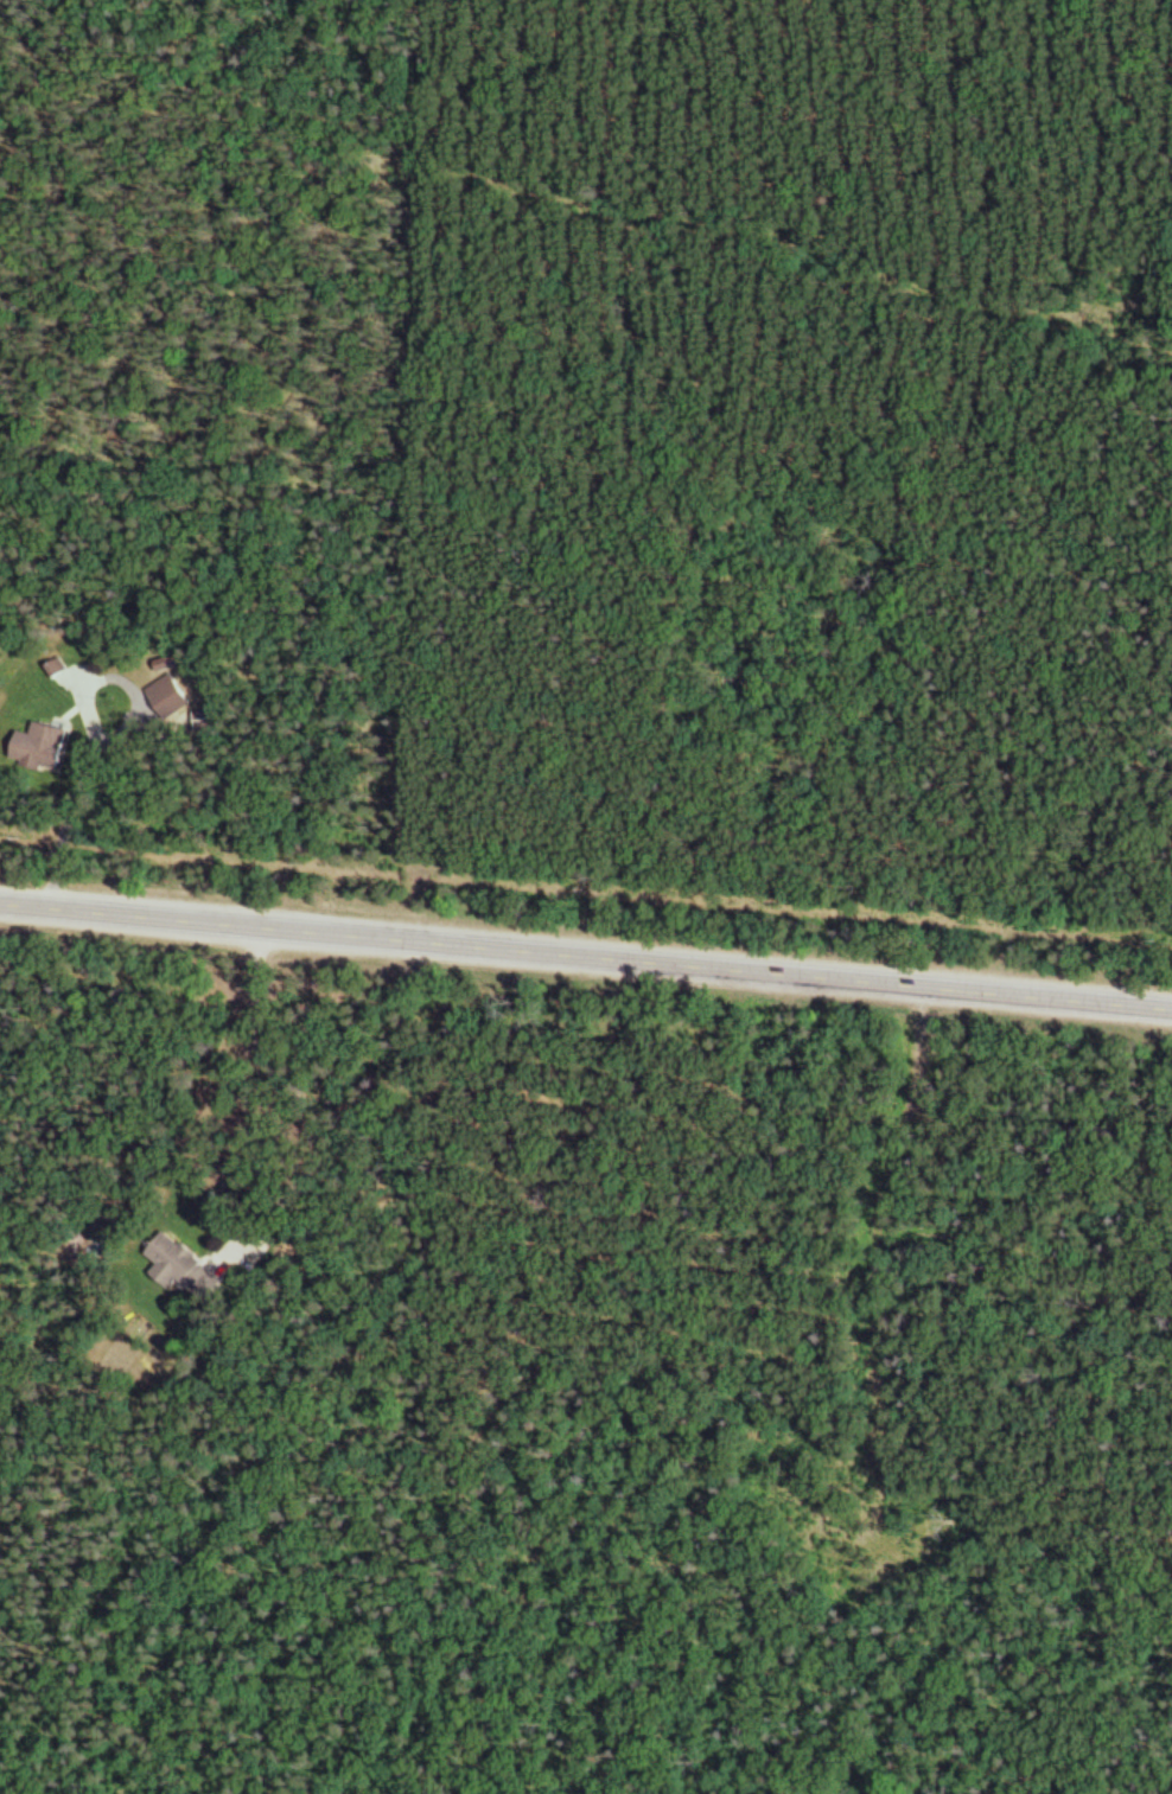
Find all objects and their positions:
building: (50, 669)
building: (163, 697)
building: (198, 720)
road: (93, 740)
building: (34, 748)
road: (586, 958)
road: (285, 1093)
building: (177, 1269)

